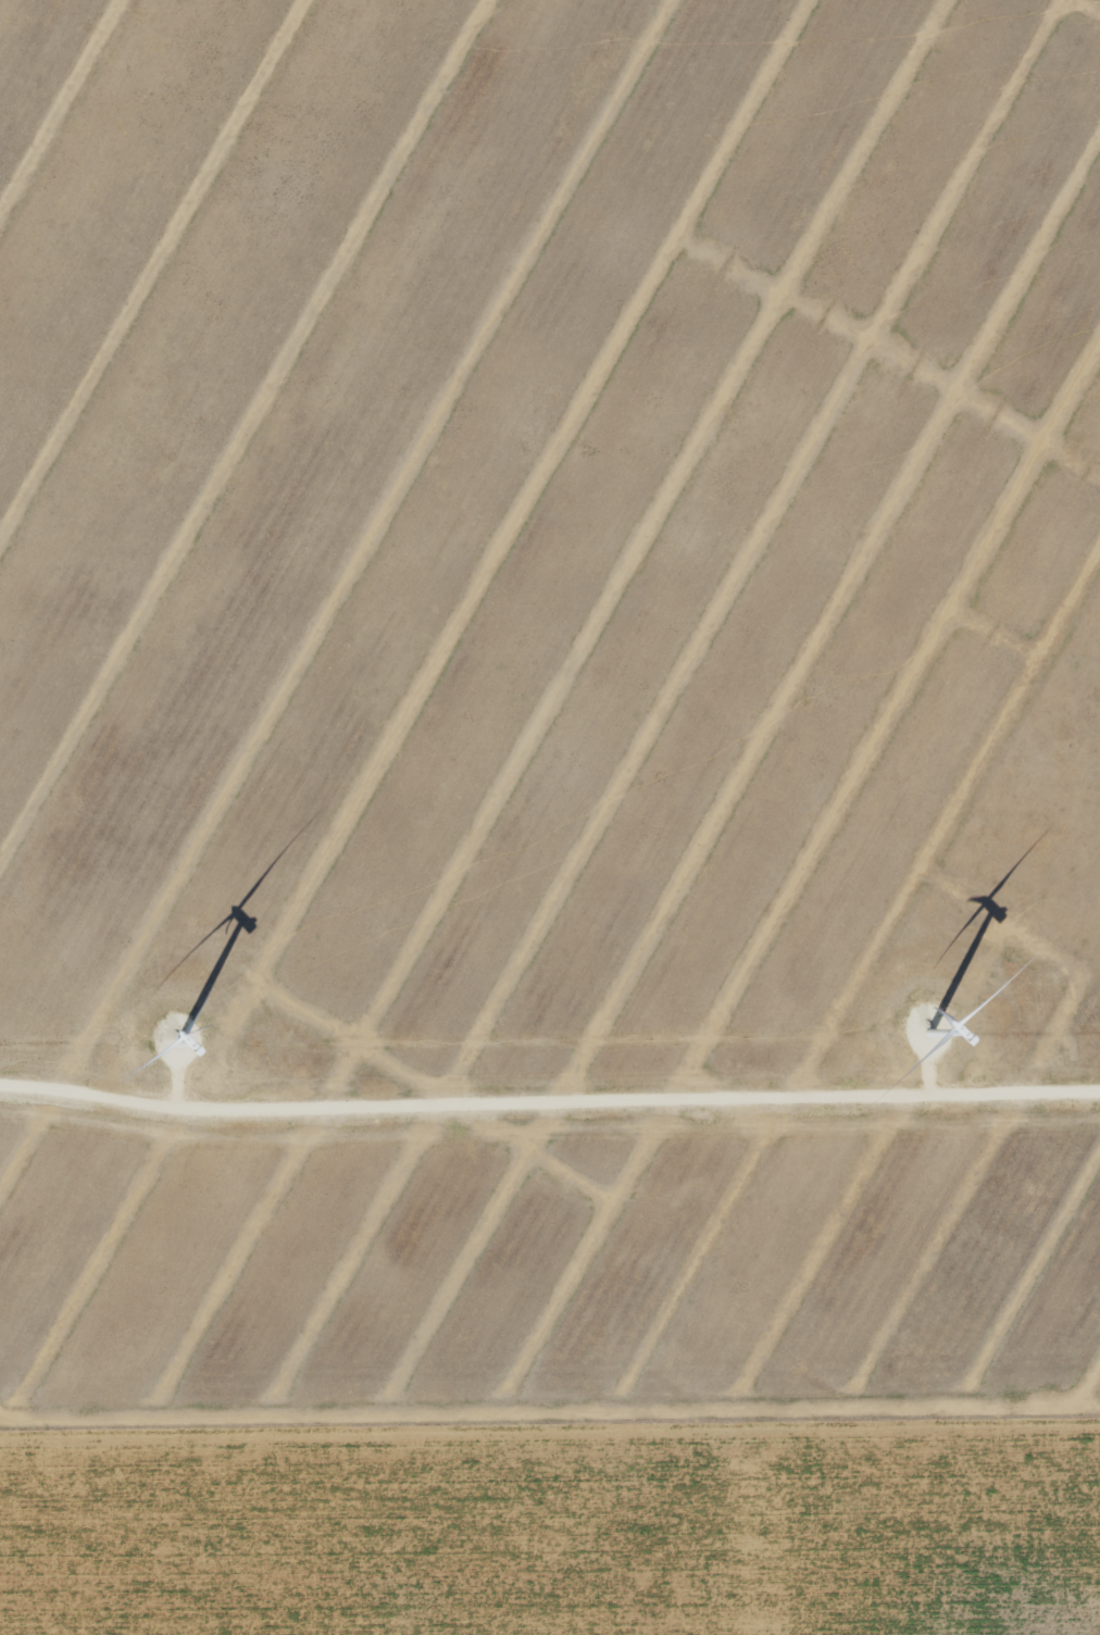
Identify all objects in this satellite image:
wind turbine: (936, 1034)
wind turbine: (180, 1048)

